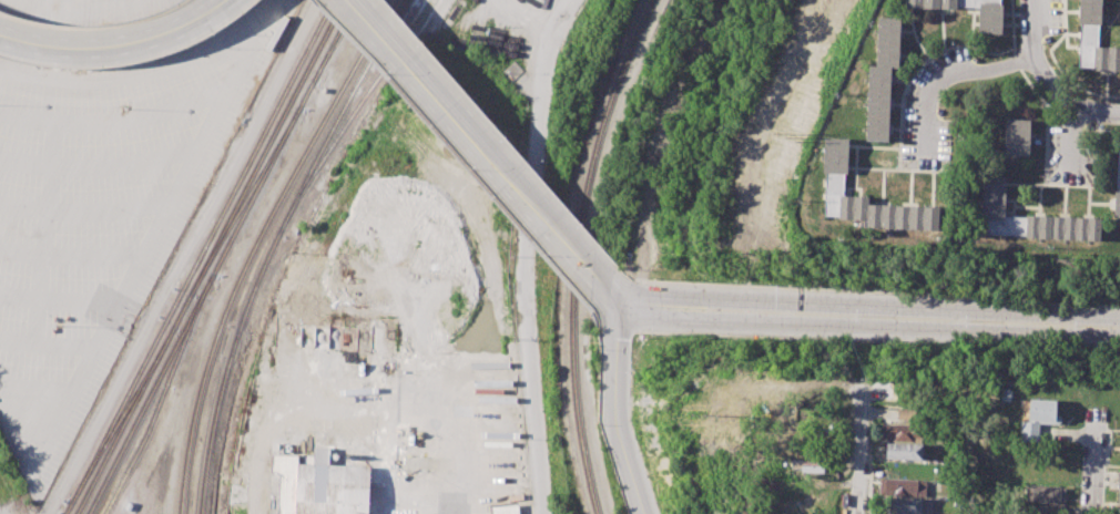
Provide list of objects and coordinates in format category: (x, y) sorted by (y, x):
street lamp: (309, 0)
road: (125, 3)
road: (68, 7)
road: (85, 12)
building: (989, 21)
railway: (388, 24)
railway: (389, 24)
building: (1094, 38)
railway: (335, 41)
road: (114, 44)
street lamp: (425, 49)
road: (131, 73)
street lamp: (388, 78)
building: (882, 79)
road: (957, 80)
road: (1048, 80)
street lamp: (125, 109)
railway: (352, 113)
road: (21, 117)
road: (113, 121)
power tower: (785, 136)
building: (1016, 136)
road: (1067, 138)
road: (471, 140)
street lamp: (508, 143)
road: (24, 163)
road: (124, 164)
street lamp: (472, 173)
parking lot: (101, 182)
building: (833, 184)
building: (1117, 189)
railway: (244, 202)
road: (22, 207)
road: (108, 212)
building: (1032, 218)
street lamp: (582, 229)
road: (43, 233)
road: (150, 239)
railway: (256, 245)
railway: (573, 251)
road: (20, 253)
road: (527, 254)
road: (92, 257)
road: (181, 257)
railway: (197, 257)
railway: (208, 257)
railway: (221, 257)
street lamp: (548, 257)
railway: (261, 271)
street lamp: (655, 278)
road: (615, 291)
road: (18, 297)
road: (78, 300)
road: (876, 305)
street lamp: (749, 315)
street lamp: (857, 320)
road: (876, 323)
street lamp: (966, 325)
street lamp: (55, 326)
street lamp: (1075, 328)
street lamp: (651, 336)
road: (17, 341)
road: (63, 347)
street lamp: (630, 370)
road: (37, 385)
building: (1005, 393)
railway: (162, 394)
road: (618, 408)
building: (1042, 409)
railway: (122, 413)
power tower: (702, 413)
building: (906, 414)
building: (900, 431)
building: (1029, 432)
road: (465, 440)
road: (13, 448)
road: (861, 449)
building: (904, 451)
street lamp: (640, 454)
road: (1093, 462)
building: (807, 465)
building: (1118, 479)
building: (319, 484)
building: (903, 486)
building: (1043, 493)
building: (1119, 497)
building: (907, 505)
building: (505, 508)
building: (1041, 510)
building: (1119, 512)

